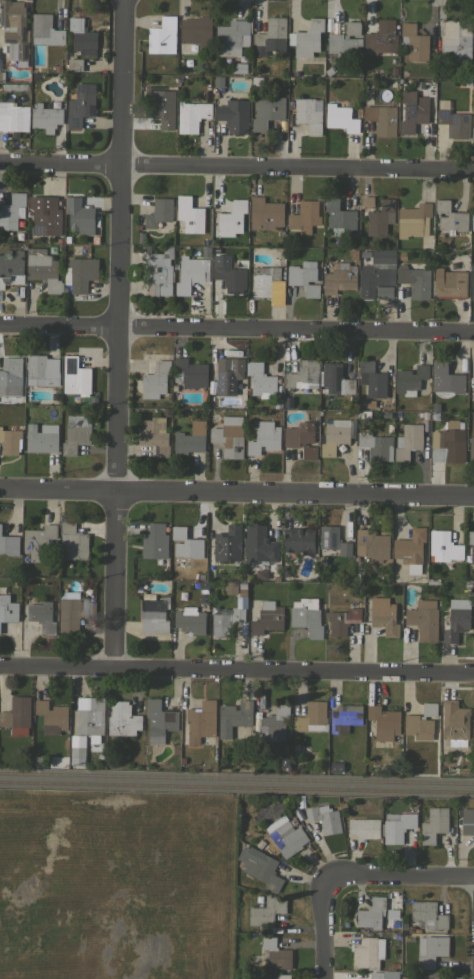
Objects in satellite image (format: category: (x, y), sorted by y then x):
building: (14, 29)
building: (45, 30)
building: (195, 35)
building: (383, 35)
building: (162, 36)
building: (472, 36)
building: (82, 37)
building: (232, 37)
building: (271, 37)
building: (308, 40)
building: (345, 41)
building: (414, 41)
building: (455, 43)
building: (75, 64)
building: (234, 68)
building: (220, 69)
building: (393, 70)
building: (328, 71)
building: (256, 80)
building: (217, 81)
building: (392, 84)
building: (16, 87)
building: (206, 95)
building: (442, 103)
building: (81, 104)
building: (266, 110)
building: (413, 111)
building: (160, 112)
building: (308, 114)
building: (234, 115)
building: (192, 116)
building: (13, 117)
building: (45, 117)
building: (341, 118)
building: (381, 119)
building: (454, 122)
building: (472, 132)
road: (236, 168)
building: (12, 211)
building: (159, 213)
building: (265, 213)
building: (189, 214)
building: (304, 214)
building: (377, 214)
building: (44, 215)
building: (79, 216)
building: (339, 216)
building: (450, 216)
building: (232, 218)
building: (414, 220)
building: (472, 223)
building: (205, 251)
building: (402, 255)
building: (11, 267)
building: (43, 269)
building: (158, 272)
building: (229, 272)
building: (80, 273)
building: (191, 273)
building: (304, 277)
building: (391, 277)
building: (339, 278)
building: (264, 280)
building: (472, 281)
building: (449, 283)
road: (116, 331)
road: (236, 331)
building: (43, 369)
building: (189, 373)
building: (303, 375)
building: (75, 376)
building: (11, 377)
building: (260, 378)
building: (335, 379)
building: (372, 379)
building: (410, 379)
building: (155, 380)
building: (446, 380)
building: (229, 382)
building: (473, 386)
building: (210, 394)
building: (287, 402)
building: (277, 403)
building: (368, 405)
building: (434, 406)
building: (389, 414)
building: (362, 415)
building: (397, 415)
building: (425, 415)
building: (435, 416)
building: (426, 426)
building: (389, 428)
building: (76, 433)
building: (336, 435)
building: (155, 436)
building: (229, 436)
building: (264, 437)
building: (41, 438)
building: (301, 438)
building: (425, 439)
building: (10, 441)
building: (408, 441)
building: (450, 441)
building: (188, 442)
building: (376, 445)
building: (471, 447)
road: (236, 493)
building: (298, 540)
building: (38, 541)
building: (73, 541)
building: (154, 541)
building: (333, 541)
building: (228, 543)
building: (9, 544)
building: (258, 544)
building: (471, 544)
building: (372, 545)
building: (444, 546)
building: (185, 547)
building: (410, 549)
building: (358, 570)
building: (259, 573)
building: (199, 575)
building: (346, 577)
building: (275, 578)
building: (201, 583)
building: (241, 584)
building: (201, 596)
building: (239, 599)
building: (8, 609)
building: (73, 610)
building: (41, 615)
building: (154, 615)
building: (306, 616)
building: (384, 616)
building: (267, 618)
building: (424, 618)
building: (457, 619)
building: (190, 620)
building: (342, 620)
building: (225, 622)
building: (242, 628)
building: (472, 628)
road: (237, 667)
building: (51, 714)
building: (17, 715)
building: (89, 715)
building: (234, 717)
building: (311, 717)
building: (344, 717)
building: (122, 719)
building: (473, 719)
building: (159, 720)
building: (201, 722)
building: (383, 722)
building: (421, 722)
building: (455, 722)
building: (274, 723)
building: (175, 750)
building: (78, 752)
building: (181, 760)
building: (110, 763)
building: (283, 764)
building: (334, 767)
railway: (237, 775)
railway: (237, 787)
building: (324, 818)
building: (467, 821)
building: (433, 825)
building: (396, 826)
building: (364, 828)
building: (285, 836)
building: (353, 845)
building: (260, 866)
road: (398, 877)
building: (266, 911)
building: (371, 913)
building: (428, 915)
road: (321, 928)
building: (410, 929)
building: (417, 930)
building: (397, 934)
building: (431, 950)
building: (367, 952)
building: (275, 953)
building: (430, 974)
building: (378, 975)
building: (277, 977)

